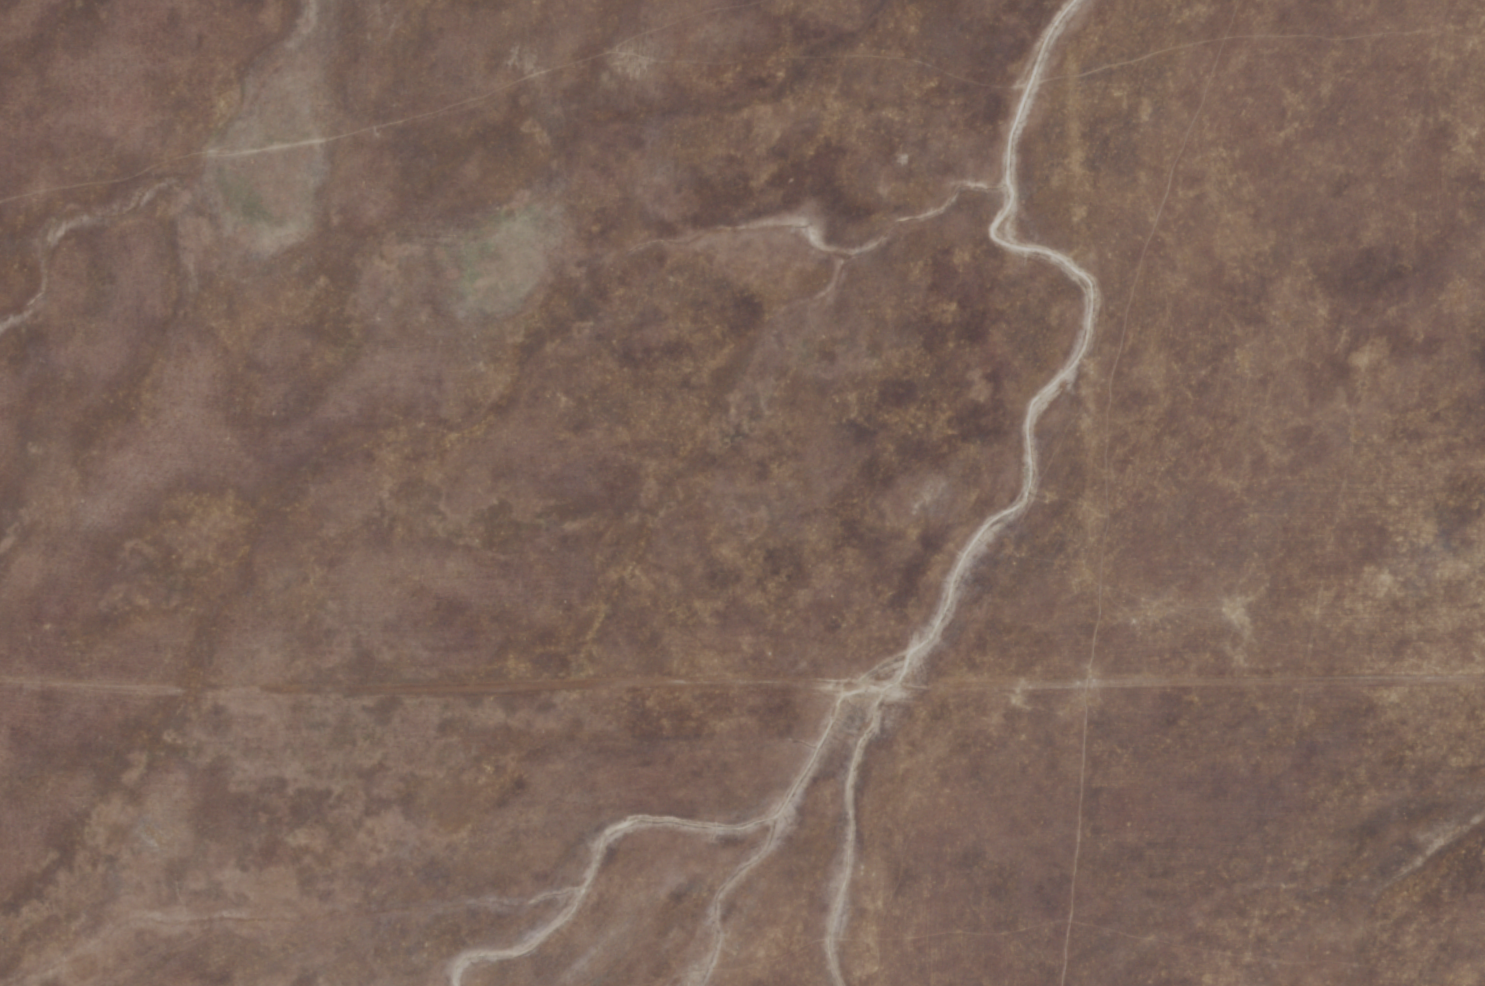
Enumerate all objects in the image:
road: (742, 685)

